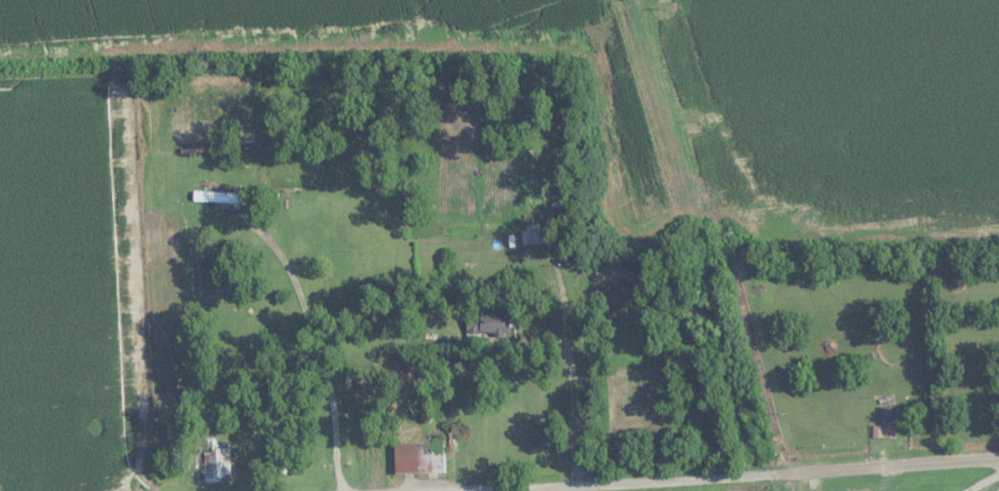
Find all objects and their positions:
building: (220, 200)
building: (530, 237)
building: (485, 325)
building: (886, 424)
building: (418, 458)
building: (216, 465)
road: (750, 476)
road: (601, 488)

